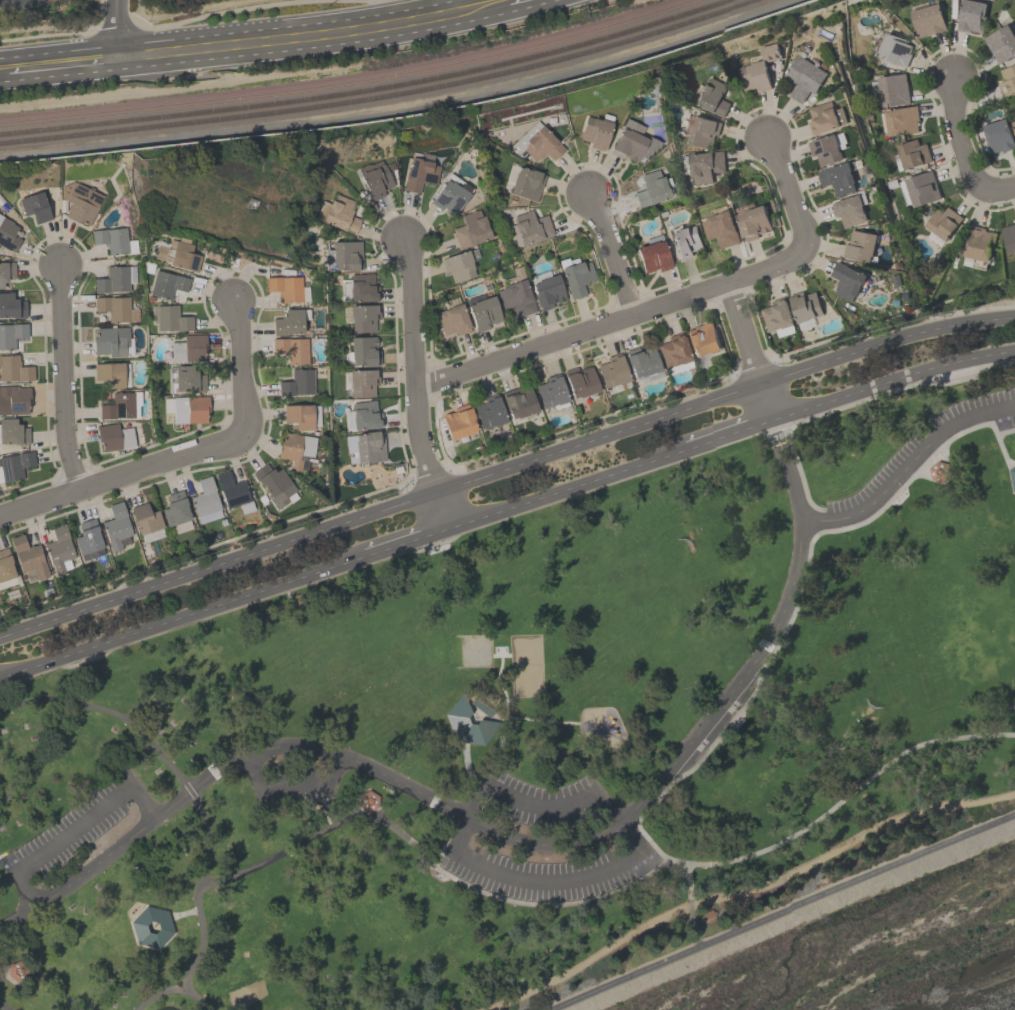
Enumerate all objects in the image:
road: (499, 10)
building: (971, 16)
building: (928, 20)
road: (216, 32)
road: (115, 33)
building: (1001, 44)
road: (289, 48)
building: (895, 50)
building: (759, 70)
road: (57, 73)
building: (803, 78)
building: (1007, 81)
railway: (351, 82)
railway: (365, 88)
building: (893, 90)
railway: (380, 94)
building: (712, 96)
building: (825, 118)
building: (901, 121)
building: (1013, 125)
road: (957, 130)
building: (595, 131)
building: (703, 131)
building: (998, 136)
building: (633, 141)
building: (536, 142)
building: (825, 149)
building: (913, 154)
building: (705, 166)
building: (420, 173)
building: (837, 177)
building: (376, 181)
building: (526, 183)
building: (651, 188)
building: (923, 189)
road: (992, 191)
building: (450, 194)
building: (79, 202)
building: (34, 206)
building: (850, 210)
building: (340, 214)
building: (754, 223)
building: (944, 223)
building: (529, 227)
building: (720, 228)
building: (470, 229)
building: (7, 234)
building: (1009, 237)
building: (110, 239)
building: (686, 242)
building: (860, 246)
building: (980, 246)
road: (611, 249)
building: (177, 255)
building: (343, 256)
building: (653, 256)
building: (457, 265)
building: (6, 271)
building: (577, 277)
building: (112, 279)
building: (847, 281)
building: (166, 284)
building: (285, 287)
building: (357, 287)
building: (547, 291)
building: (515, 292)
road: (667, 300)
building: (805, 305)
building: (11, 306)
building: (115, 308)
building: (482, 311)
building: (777, 315)
building: (363, 317)
building: (171, 318)
building: (452, 319)
building: (288, 322)
road: (744, 333)
building: (11, 334)
building: (702, 339)
building: (110, 341)
road: (886, 344)
building: (188, 348)
building: (291, 349)
building: (363, 350)
building: (673, 350)
building: (641, 360)
road: (413, 366)
road: (239, 367)
building: (13, 368)
building: (612, 370)
building: (109, 373)
road: (62, 376)
building: (188, 378)
building: (580, 381)
building: (297, 382)
building: (362, 382)
road: (893, 383)
building: (551, 390)
building: (14, 399)
building: (519, 402)
road: (768, 403)
building: (117, 405)
building: (189, 409)
building: (488, 411)
building: (298, 415)
building: (364, 415)
building: (458, 421)
building: (13, 431)
road: (1005, 432)
building: (114, 436)
road: (730, 436)
road: (598, 439)
road: (791, 440)
building: (368, 446)
building: (290, 449)
road: (1012, 463)
building: (14, 465)
road: (909, 466)
road: (1012, 468)
road: (791, 472)
road: (920, 472)
building: (940, 472)
road: (118, 475)
building: (1013, 477)
road: (1011, 482)
building: (273, 483)
building: (231, 489)
road: (567, 490)
building: (205, 500)
building: (174, 509)
road: (441, 511)
building: (144, 518)
building: (115, 525)
building: (88, 539)
road: (406, 542)
building: (58, 547)
building: (27, 555)
building: (5, 565)
road: (217, 566)
road: (183, 616)
park: (476, 650)
park: (526, 665)
building: (473, 717)
road: (504, 717)
road: (734, 717)
park: (533, 736)
road: (467, 767)
road: (289, 787)
road: (850, 794)
road: (197, 803)
road: (319, 806)
road: (458, 814)
road: (72, 829)
road: (445, 842)
road: (2, 853)
road: (636, 855)
road: (429, 860)
road: (688, 880)
road: (744, 891)
road: (783, 912)
road: (183, 913)
building: (152, 926)
road: (172, 932)
river: (960, 985)
road: (198, 995)
road: (4, 1007)

